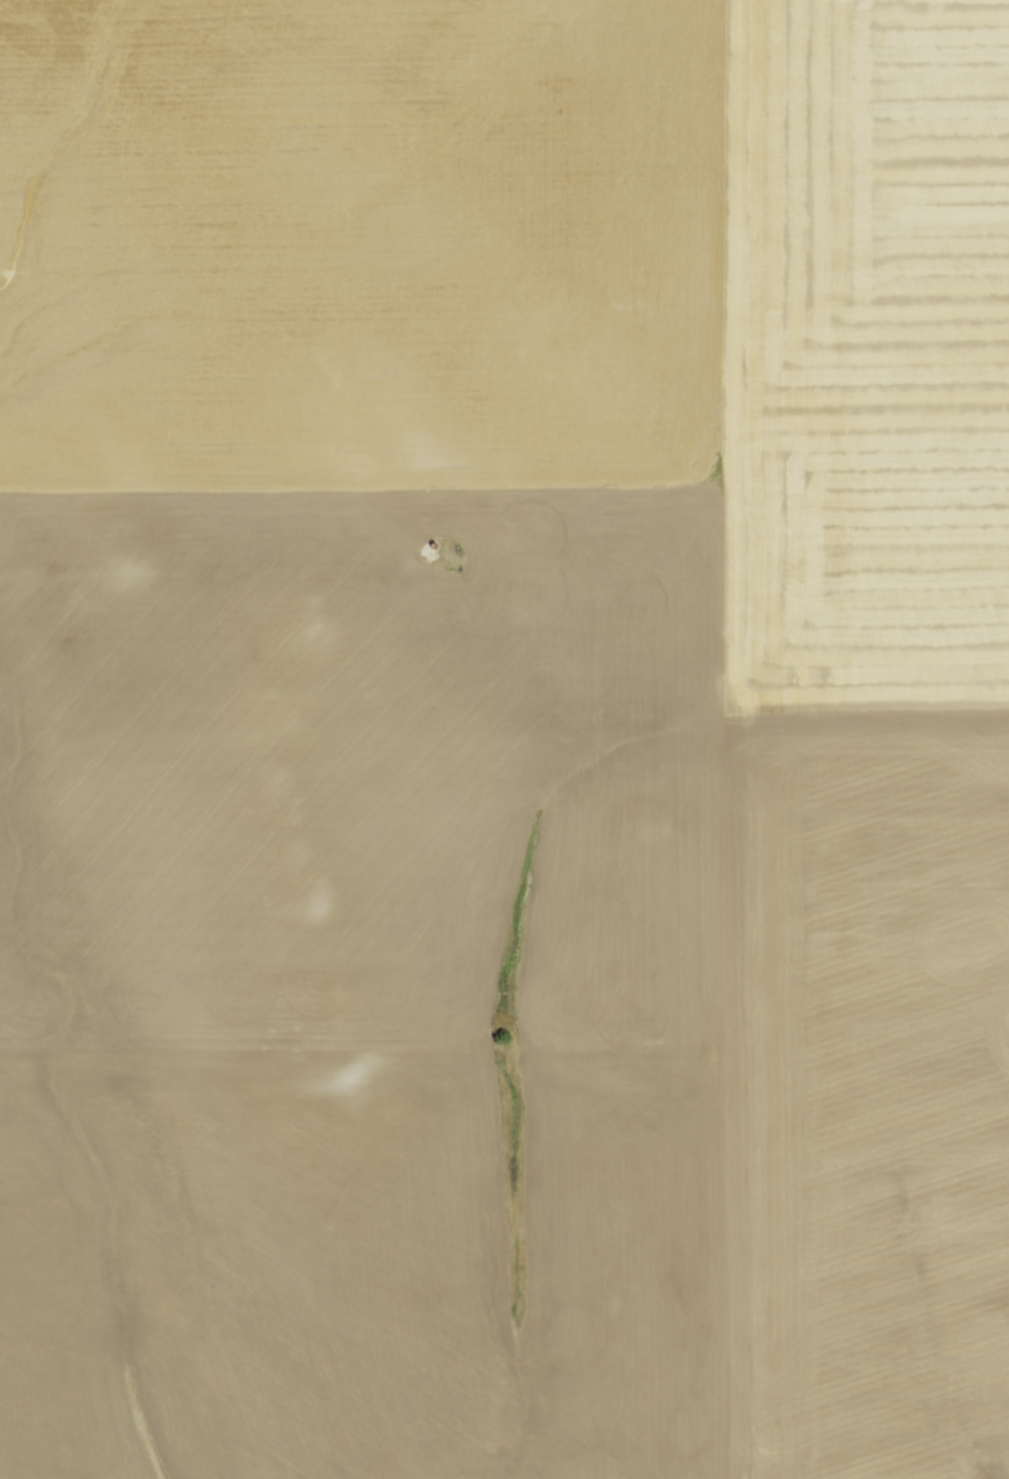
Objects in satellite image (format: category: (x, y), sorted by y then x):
crop: (504, 739)

